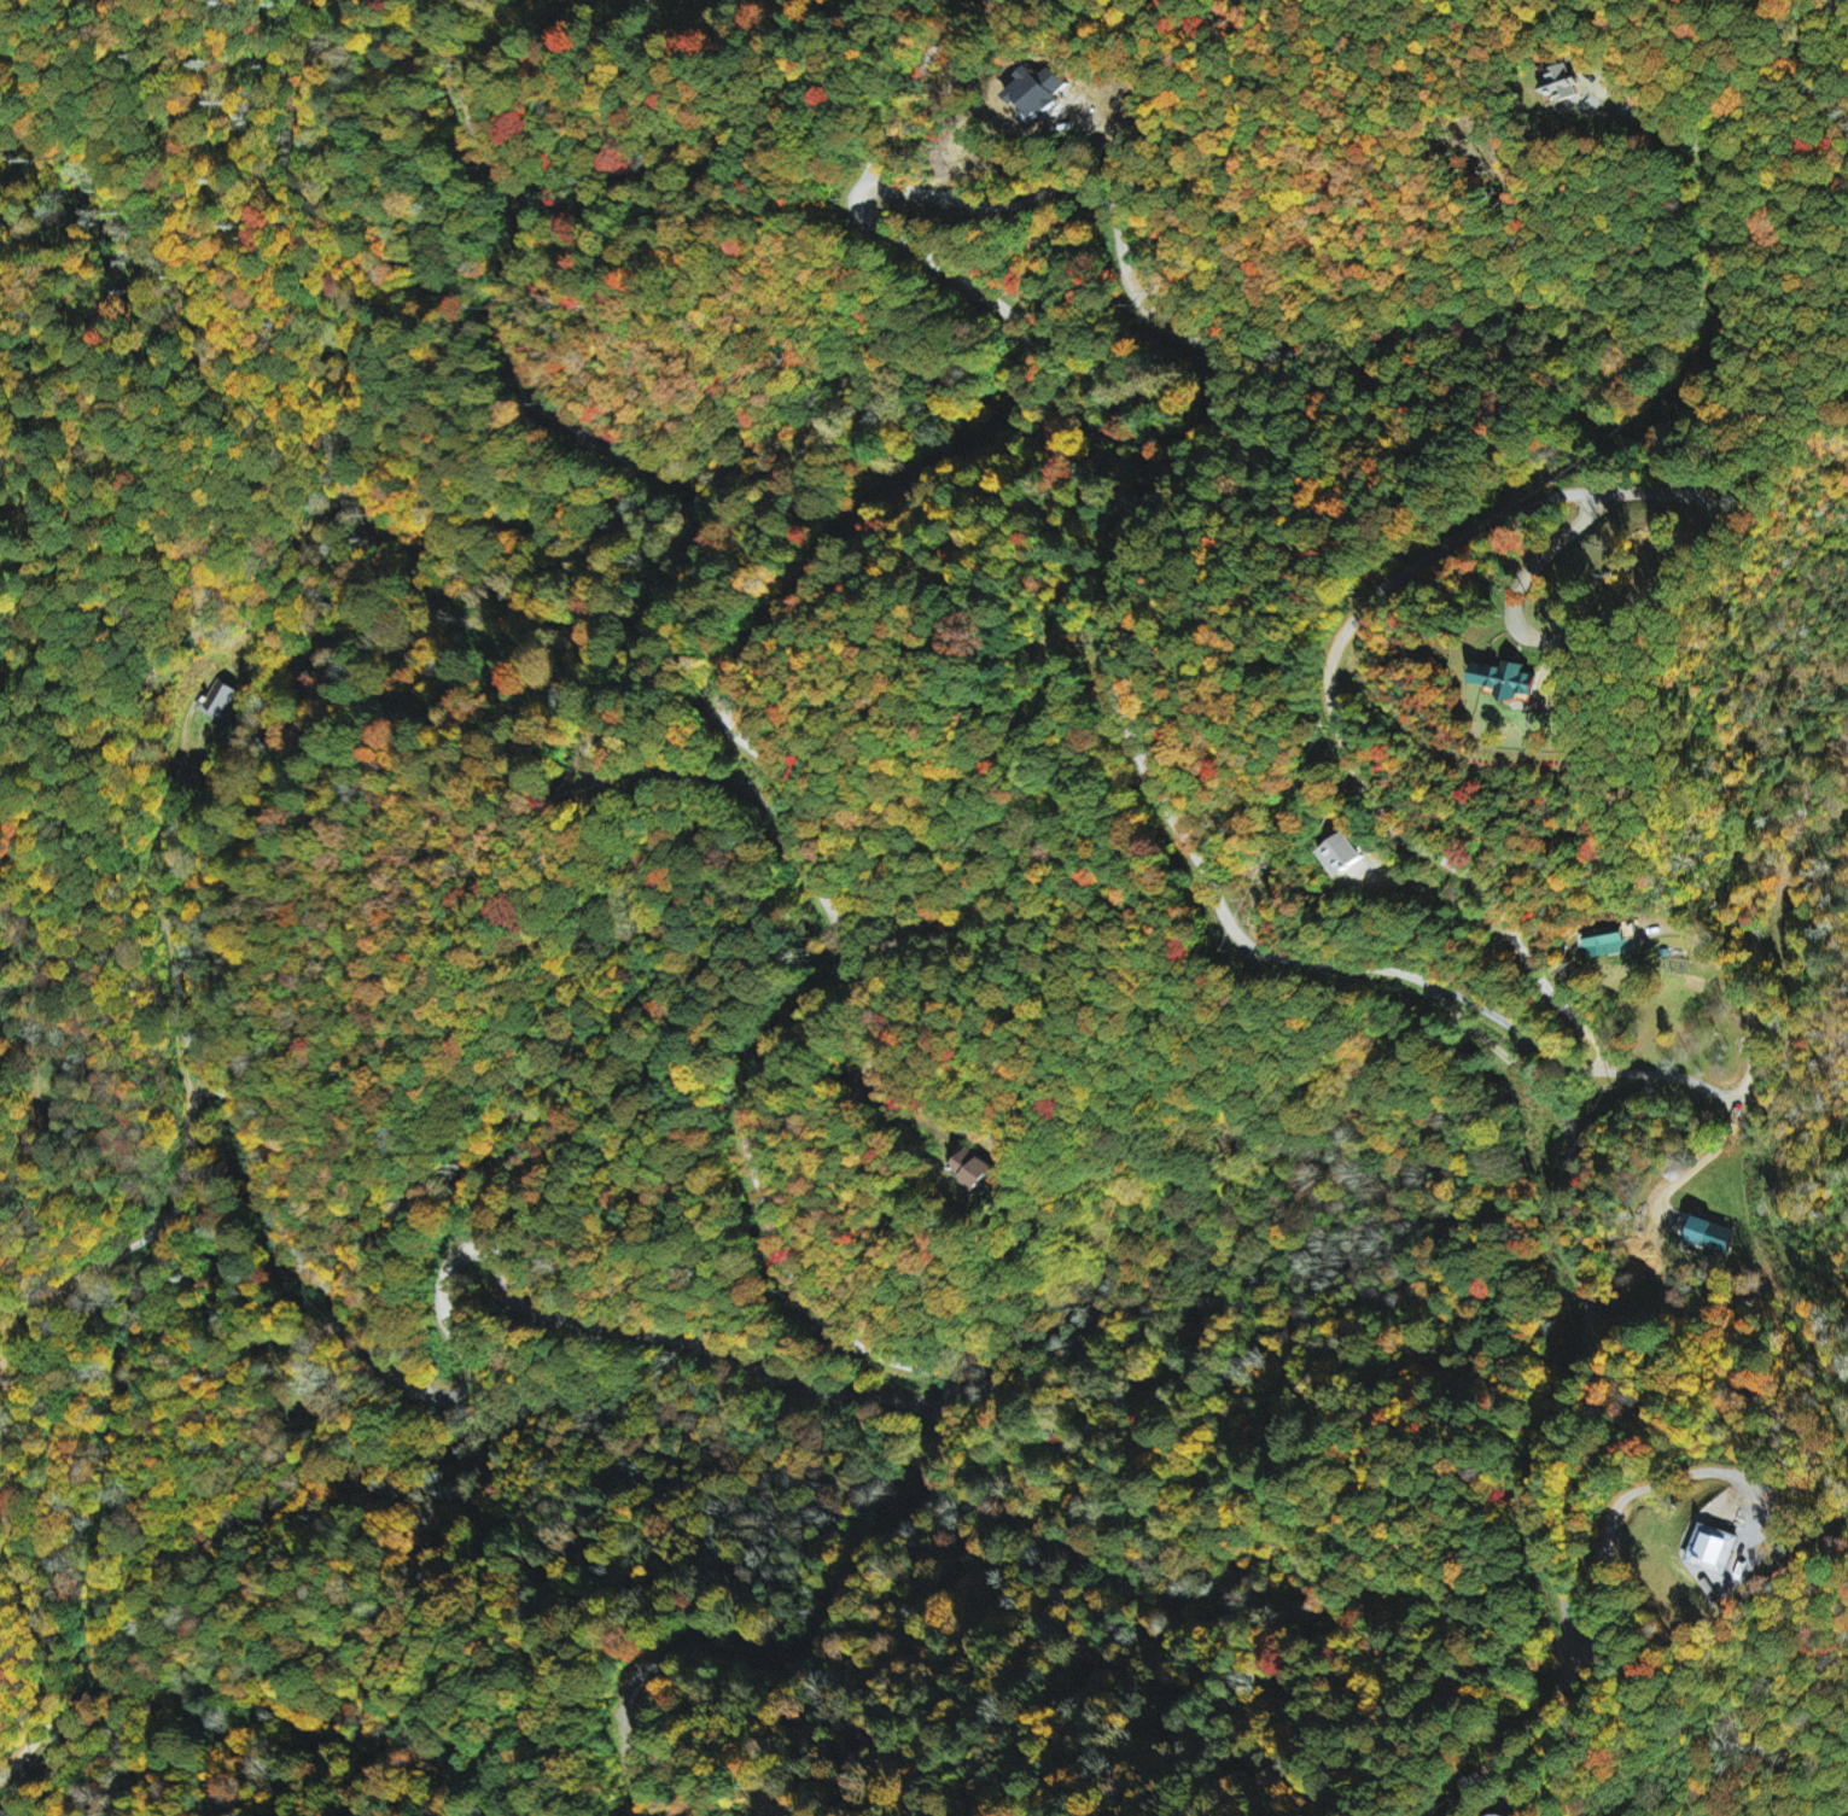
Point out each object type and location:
road: (916, 78)
building: (1560, 84)
building: (1040, 92)
road: (1721, 344)
road: (660, 459)
building: (1496, 678)
road: (1113, 689)
building: (217, 701)
road: (762, 753)
road: (1369, 792)
building: (1342, 854)
building: (1610, 946)
building: (973, 1169)
building: (1708, 1236)
road: (1586, 1297)
road: (413, 1379)
road: (13, 1403)
building: (1706, 1551)
road: (797, 1651)
road: (1515, 1735)

